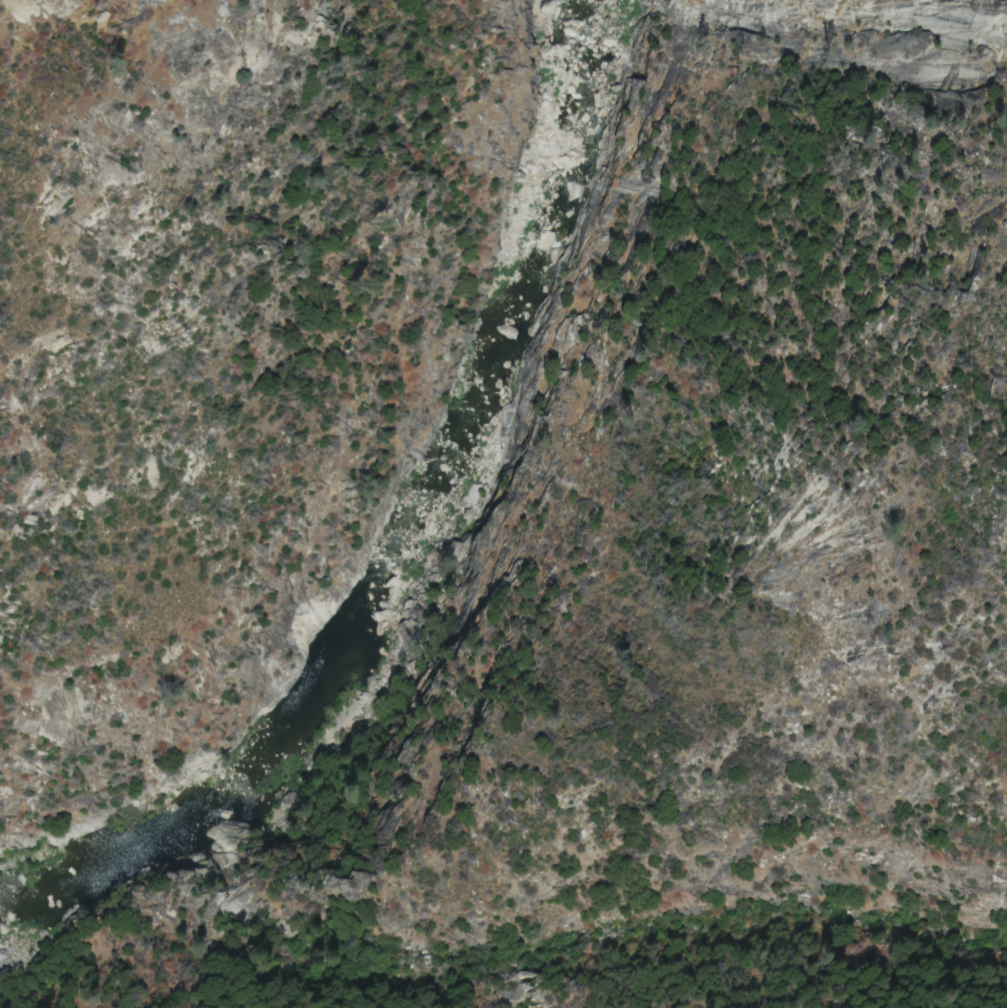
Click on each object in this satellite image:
river: (417, 544)

